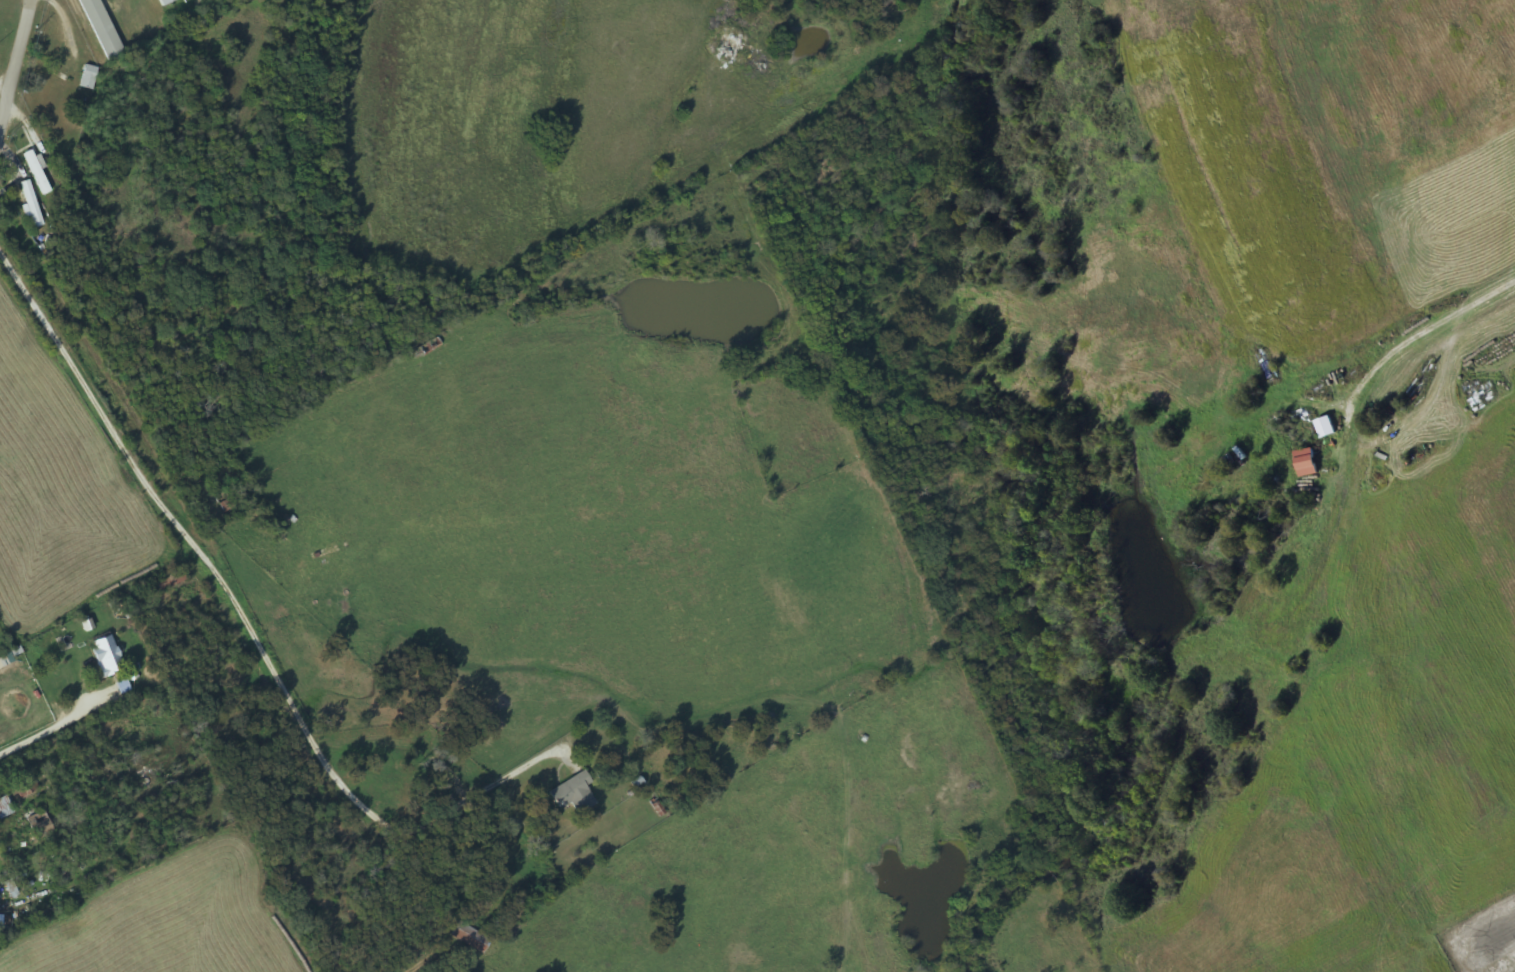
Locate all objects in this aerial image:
building: (164, 2)
building: (101, 30)
road: (15, 68)
building: (88, 78)
building: (36, 173)
building: (29, 204)
building: (421, 351)
building: (168, 582)
road: (253, 629)
building: (105, 656)
building: (573, 794)
building: (4, 808)
building: (35, 827)
road: (61, 859)
building: (469, 938)

